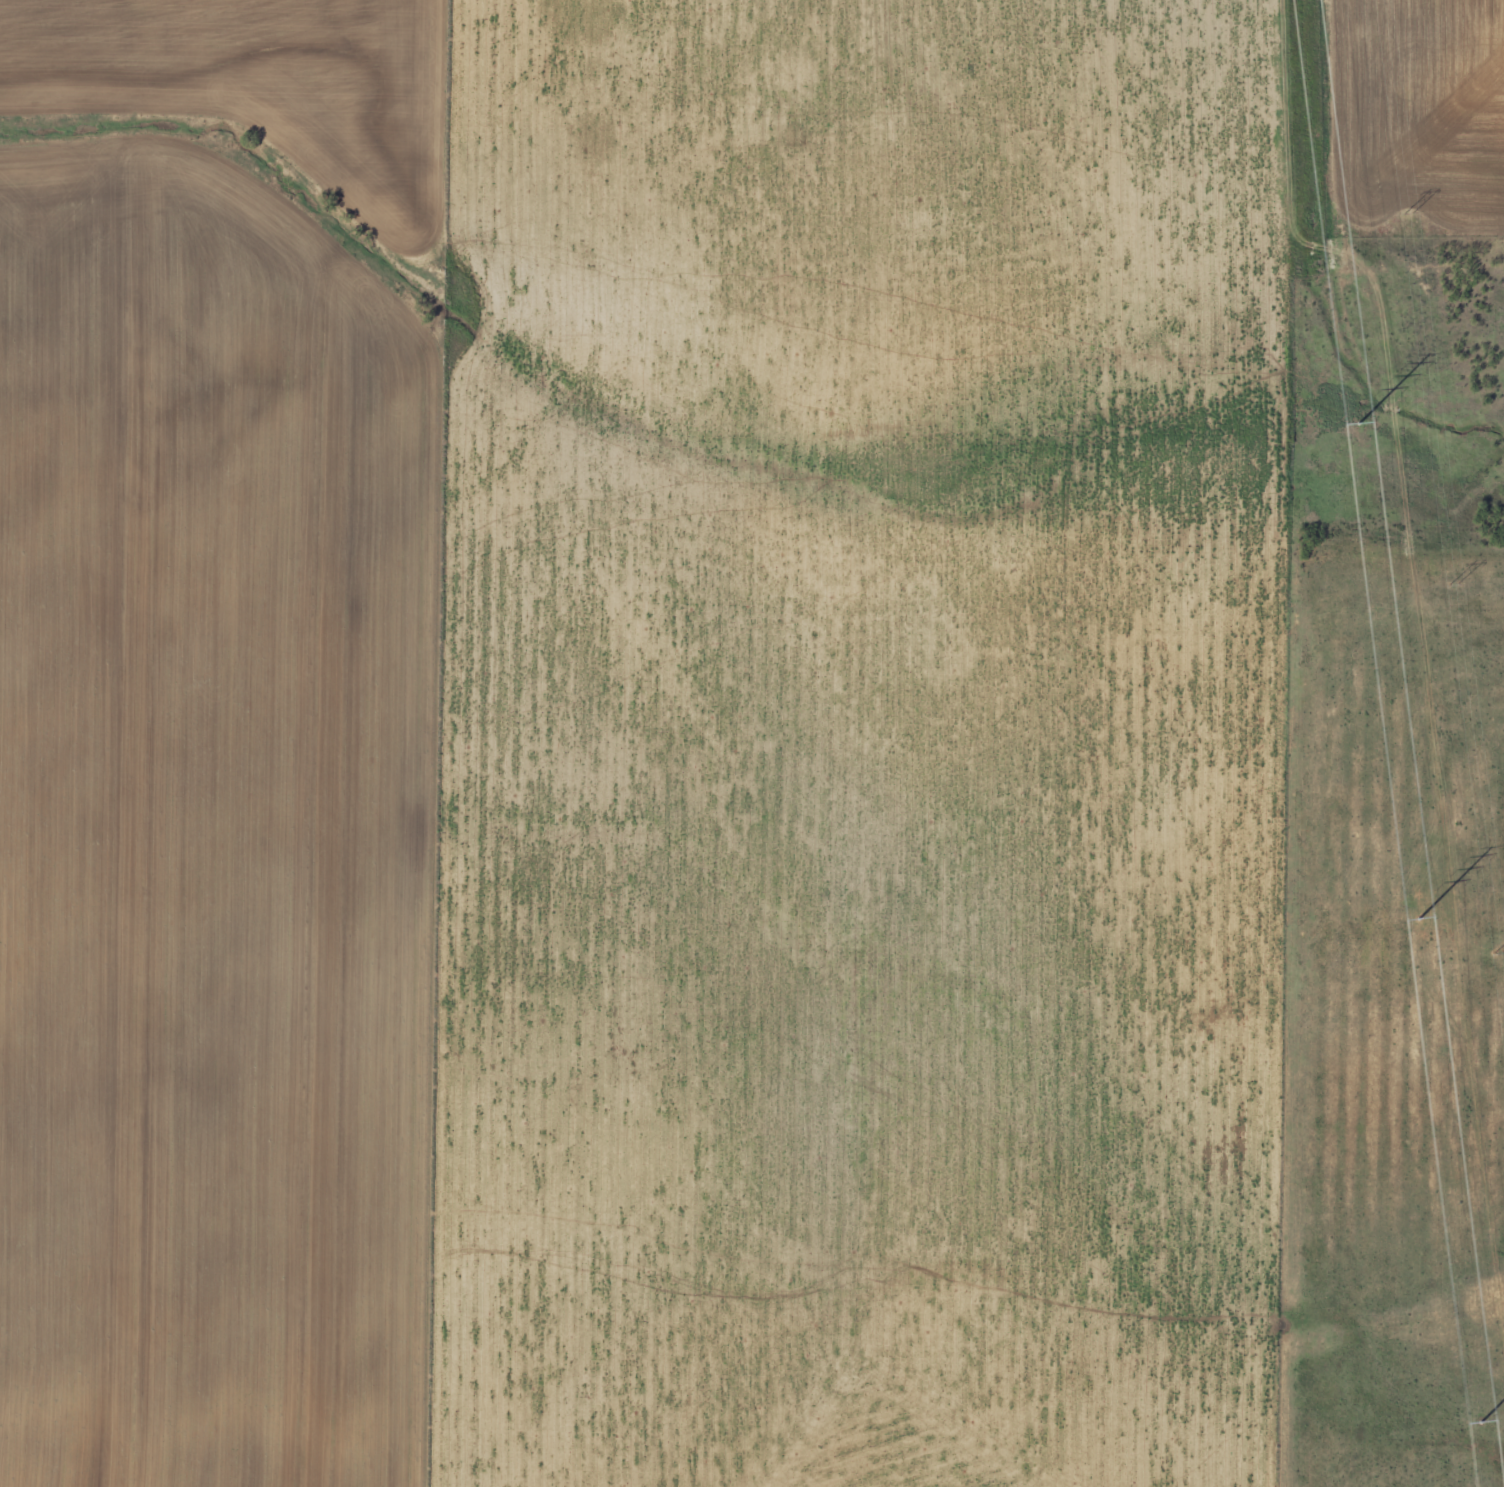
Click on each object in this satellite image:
power tower: (1406, 209)
power tower: (1359, 422)
power tower: (1454, 582)
power tower: (1420, 918)
power tower: (1499, 951)
power tower: (1481, 1422)

